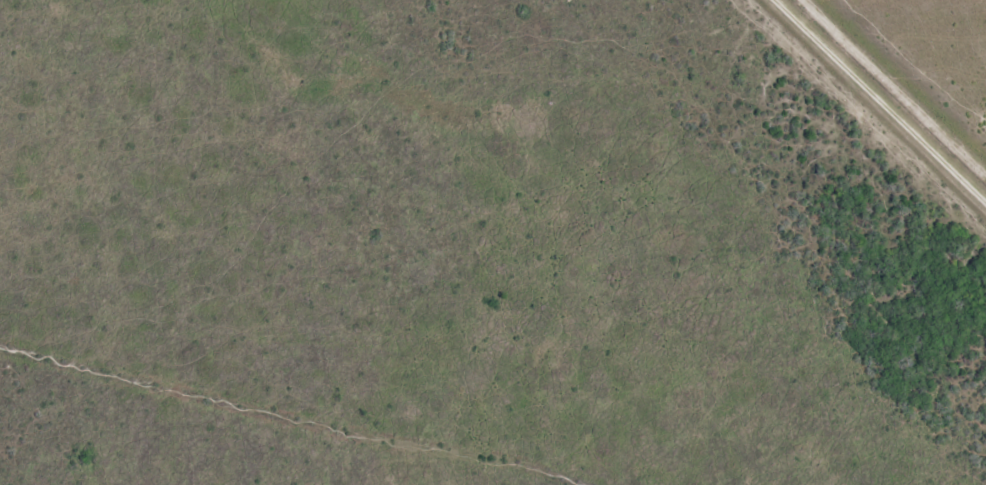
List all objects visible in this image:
road: (880, 101)

